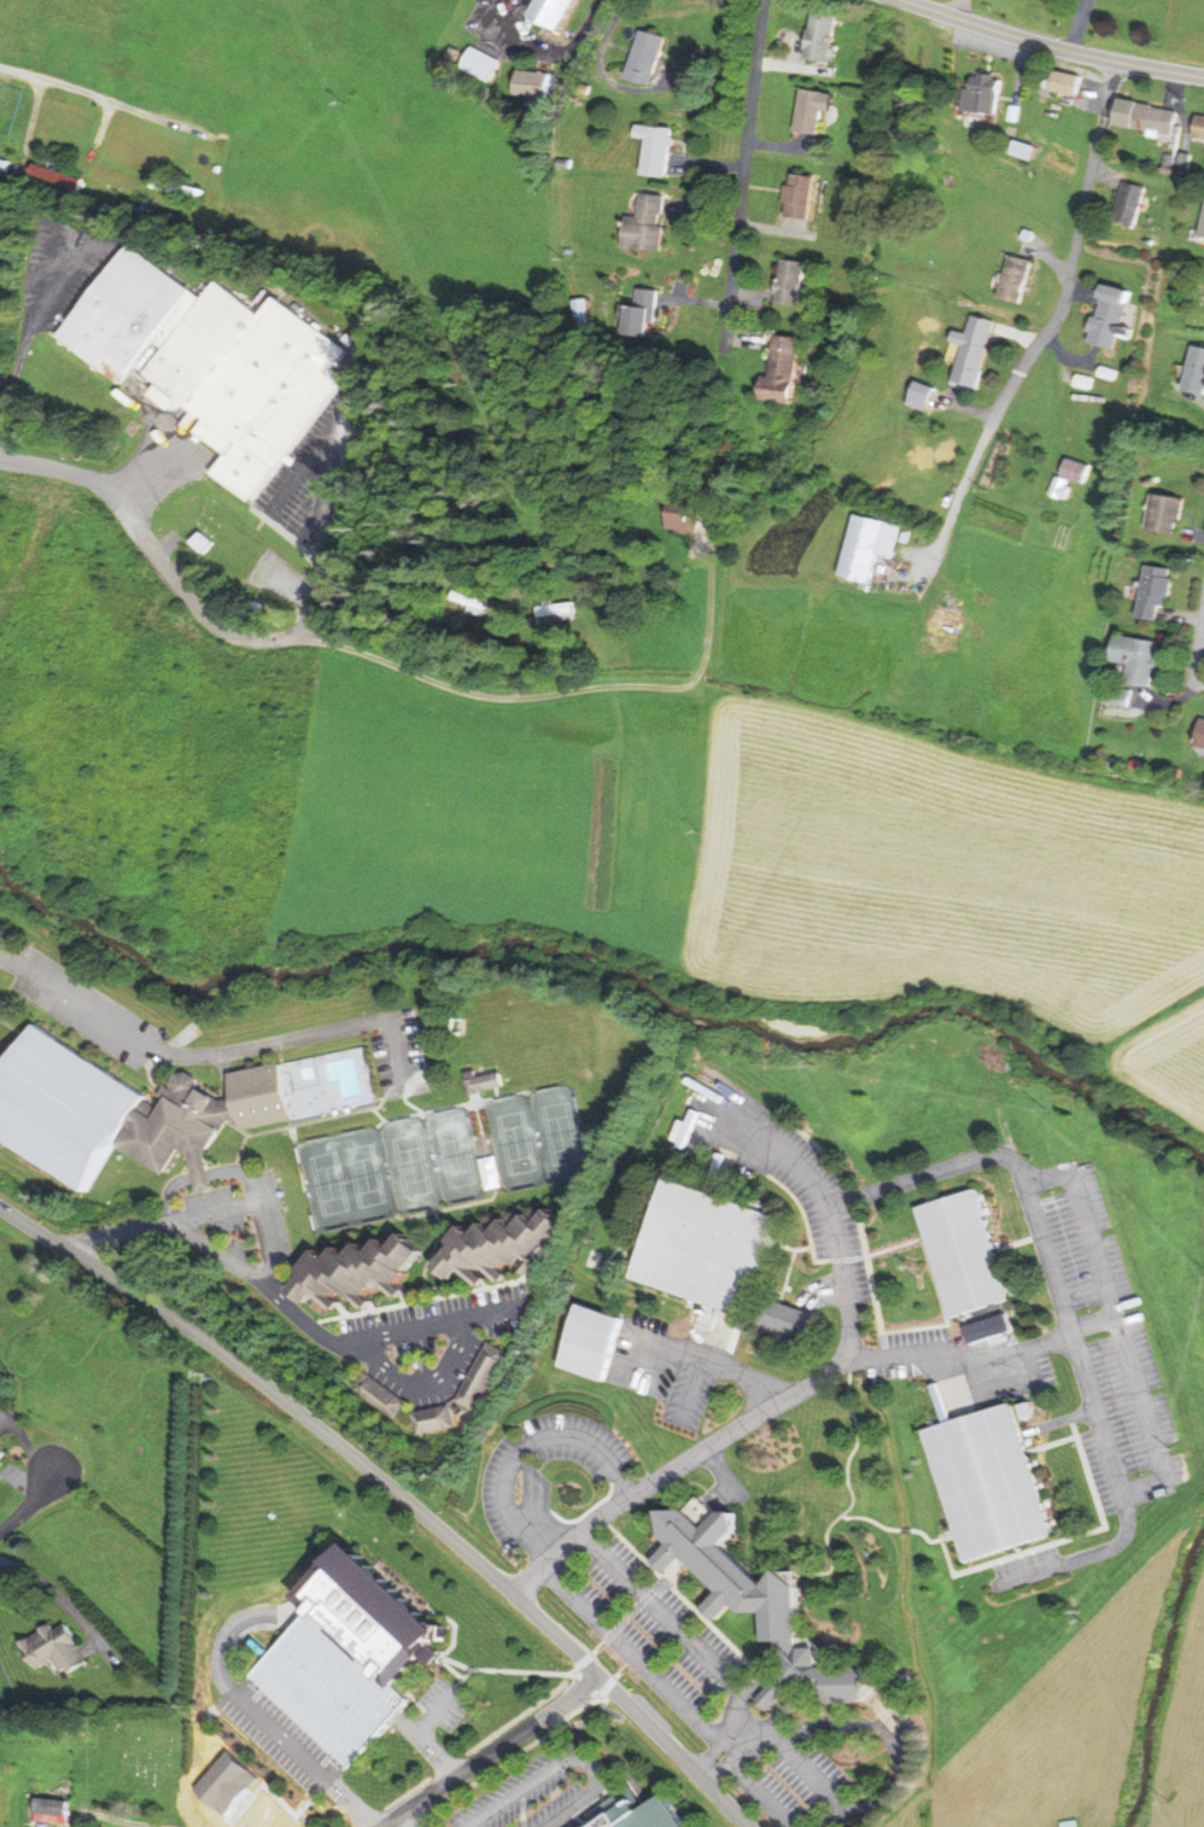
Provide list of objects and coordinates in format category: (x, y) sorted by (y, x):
building: (567, 12)
building: (825, 36)
road: (1052, 47)
building: (655, 59)
building: (485, 66)
building: (1068, 82)
building: (540, 87)
building: (983, 95)
road: (111, 100)
building: (814, 112)
building: (1015, 112)
building: (1147, 116)
building: (1200, 126)
building: (1024, 148)
building: (661, 150)
building: (1170, 159)
building: (1185, 160)
building: (4, 165)
road: (743, 174)
building: (57, 176)
building: (177, 188)
building: (800, 195)
building: (1130, 203)
building: (1118, 204)
building: (649, 223)
building: (1203, 232)
road: (1074, 255)
building: (1017, 278)
building: (791, 282)
park: (1196, 297)
building: (644, 311)
building: (1109, 315)
road: (27, 337)
building: (972, 350)
building: (214, 362)
building: (60, 369)
building: (784, 369)
building: (1197, 369)
building: (1107, 372)
building: (1083, 380)
building: (1077, 469)
road: (145, 477)
road: (297, 478)
building: (1059, 486)
road: (955, 506)
building: (1169, 513)
building: (686, 514)
road: (712, 533)
building: (905, 536)
building: (869, 545)
road: (159, 564)
road: (317, 578)
building: (865, 584)
building: (1155, 590)
building: (471, 601)
building: (556, 613)
road: (1198, 649)
building: (1139, 658)
road: (1202, 679)
building: (1121, 695)
road: (553, 696)
building: (1202, 734)
river: (610, 959)
road: (6, 961)
road: (222, 1053)
building: (480, 1084)
building: (993, 1091)
building: (259, 1098)
building: (63, 1108)
park: (63, 1108)
building: (181, 1128)
park: (557, 1131)
park: (513, 1139)
park: (450, 1151)
road: (823, 1152)
park: (405, 1160)
park: (361, 1168)
road: (933, 1171)
park: (318, 1177)
road: (852, 1198)
road: (257, 1202)
road: (803, 1218)
road: (1018, 1241)
road: (895, 1245)
building: (706, 1247)
road: (791, 1248)
building: (509, 1249)
building: (964, 1253)
road: (847, 1259)
building: (363, 1273)
road: (784, 1284)
road: (781, 1297)
road: (1021, 1301)
road: (291, 1312)
building: (787, 1319)
road: (898, 1331)
road: (1121, 1332)
building: (591, 1341)
road: (990, 1342)
road: (960, 1360)
road: (707, 1365)
building: (479, 1377)
road: (407, 1385)
road: (807, 1385)
road: (690, 1388)
building: (370, 1395)
building: (426, 1420)
road: (1059, 1420)
building: (0, 1437)
road: (1052, 1443)
road: (526, 1449)
building: (2, 1455)
road: (718, 1470)
parking lot: (551, 1478)
building: (988, 1481)
road: (394, 1490)
road: (851, 1492)
road: (29, 1505)
road: (585, 1513)
road: (870, 1520)
road: (904, 1530)
road: (925, 1536)
road: (1058, 1541)
road: (1018, 1549)
road: (1083, 1558)
road: (674, 1570)
road: (677, 1581)
building: (756, 1603)
road: (633, 1610)
building: (372, 1615)
road: (660, 1616)
road: (454, 1623)
road: (709, 1623)
parking lot: (653, 1630)
road: (317, 1647)
road: (597, 1648)
building: (63, 1651)
road: (583, 1662)
road: (624, 1668)
road: (452, 1669)
road: (509, 1670)
road: (462, 1680)
river: (1157, 1681)
road: (607, 1686)
building: (327, 1687)
parking garage: (327, 1687)
road: (760, 1689)
road: (672, 1693)
road: (404, 1694)
road: (409, 1697)
road: (597, 1697)
parking lot: (444, 1704)
road: (578, 1710)
road: (250, 1712)
road: (423, 1726)
parking lot: (280, 1736)
road: (887, 1740)
road: (585, 1745)
road: (425, 1746)
road: (493, 1752)
road: (727, 1755)
road: (567, 1761)
park: (141, 1767)
road: (818, 1778)
building: (222, 1781)
road: (606, 1787)
parking lot: (806, 1791)
parking lot: (539, 1793)
road: (591, 1805)
building: (59, 1811)
building: (641, 1811)
building: (238, 1819)
road: (138, 1821)
road: (402, 1822)
road: (589, 1822)
parking lot: (234, 1823)

